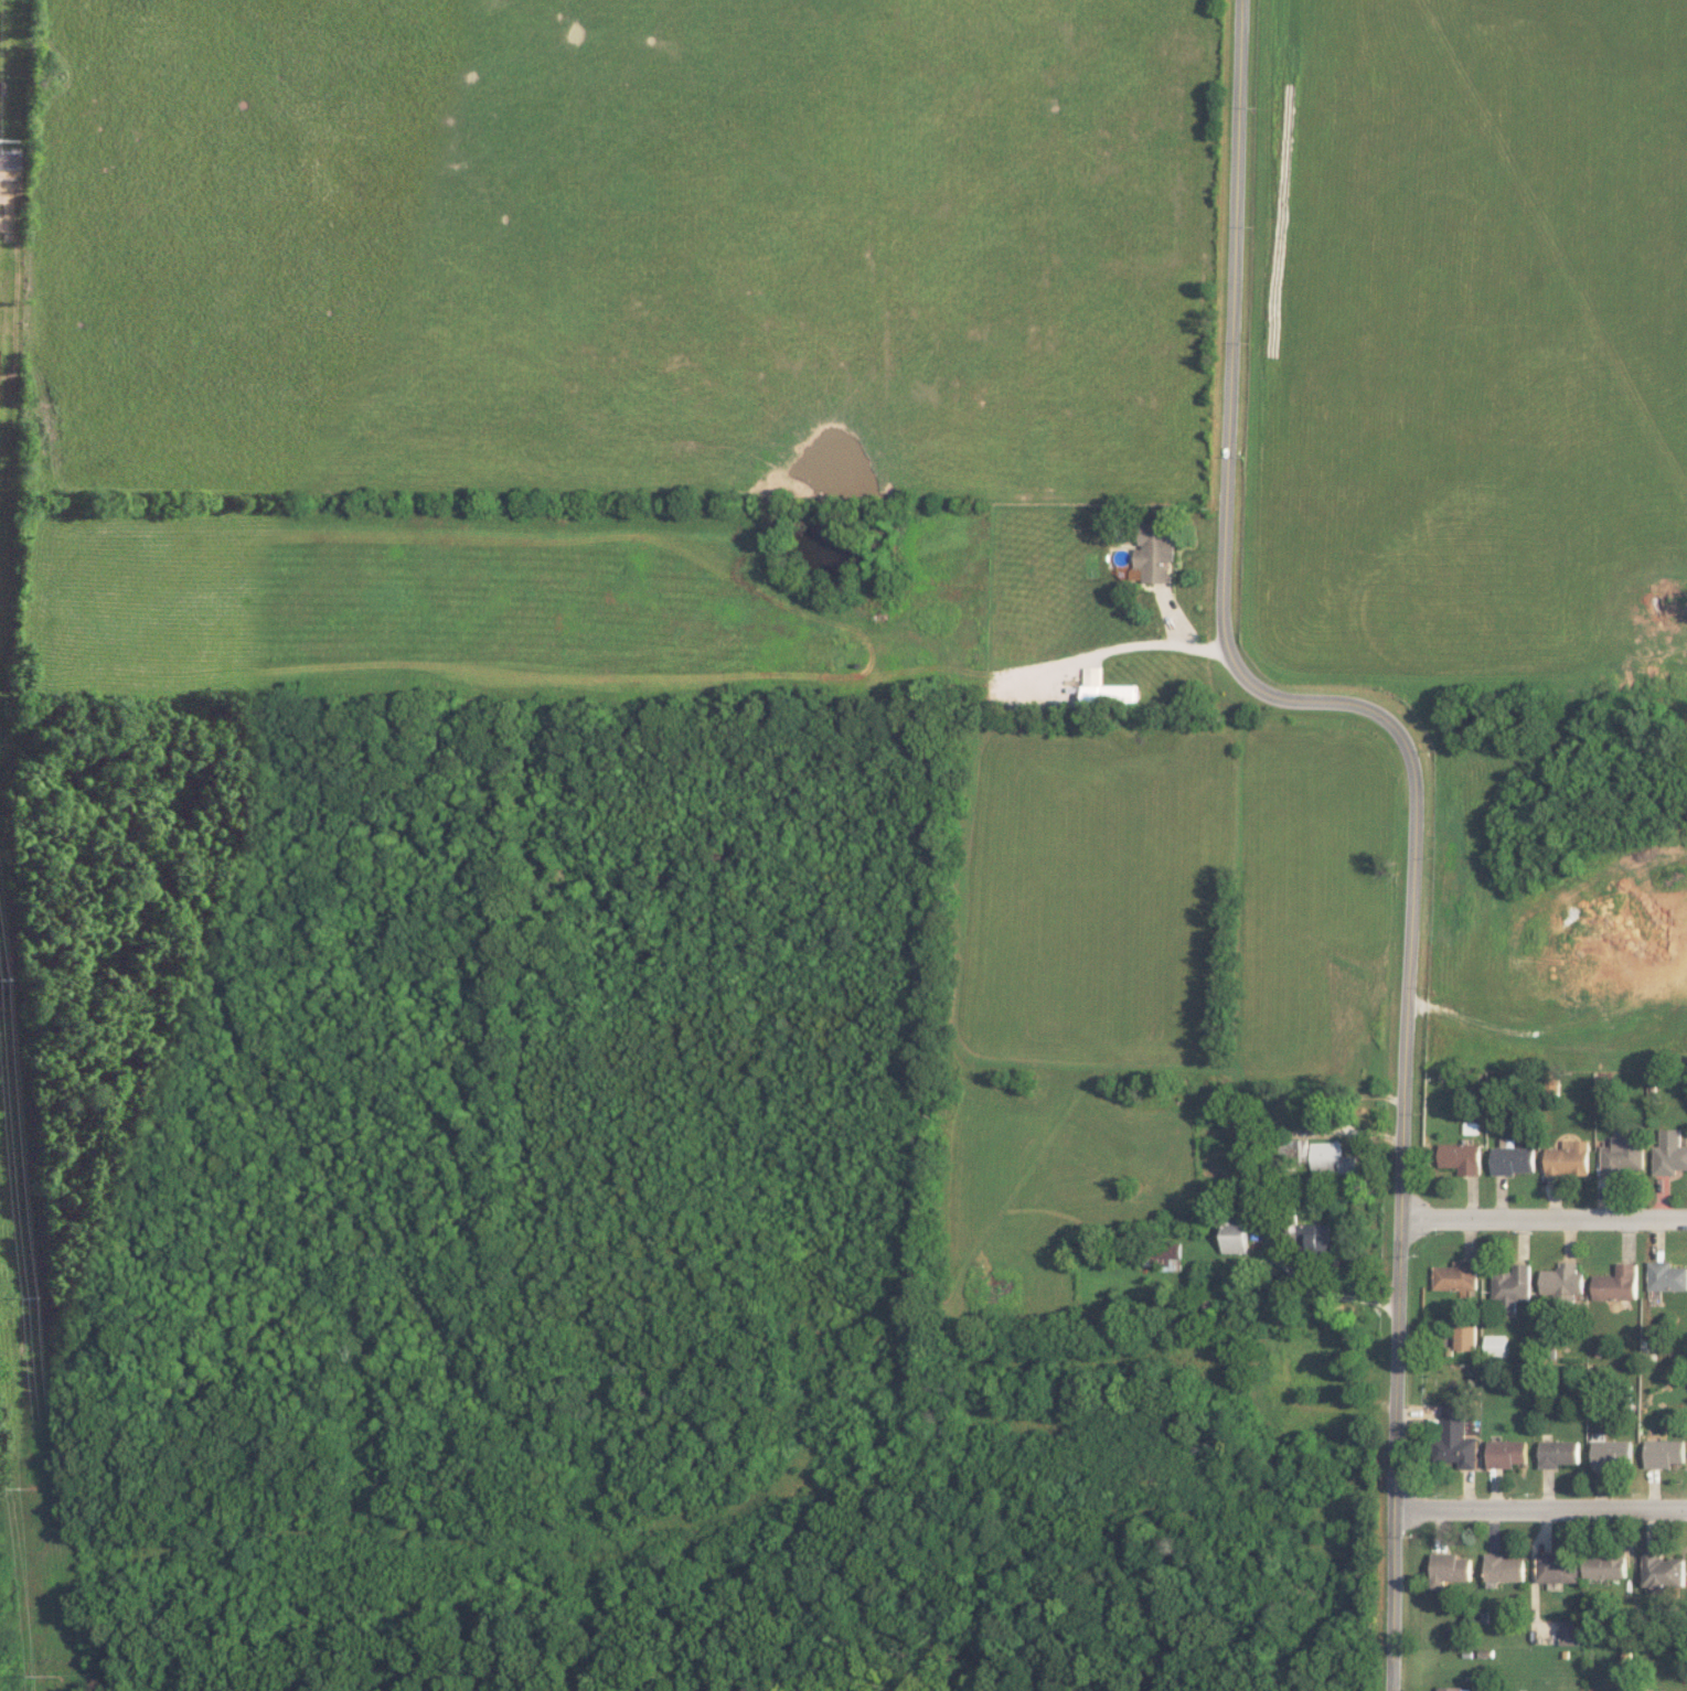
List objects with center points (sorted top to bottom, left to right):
road: (4, 161)
road: (1231, 335)
building: (1154, 552)
building: (1104, 691)
road: (1313, 699)
building: (1296, 1150)
building: (1669, 1153)
building: (1624, 1154)
building: (1462, 1157)
building: (1330, 1158)
building: (1569, 1158)
building: (1514, 1159)
road: (1401, 1206)
road: (1544, 1218)
building: (1234, 1235)
building: (1314, 1238)
building: (1164, 1256)
building: (1458, 1275)
building: (1666, 1276)
building: (1562, 1281)
building: (1617, 1283)
building: (1513, 1287)
building: (1466, 1334)
building: (1497, 1345)
building: (1455, 1437)
building: (1507, 1453)
building: (1560, 1453)
building: (1666, 1453)
building: (1614, 1454)
road: (1541, 1509)
building: (1606, 1566)
building: (1449, 1569)
building: (1504, 1569)
building: (1559, 1569)
building: (1664, 1572)
building: (1570, 1631)
building: (1449, 1689)

